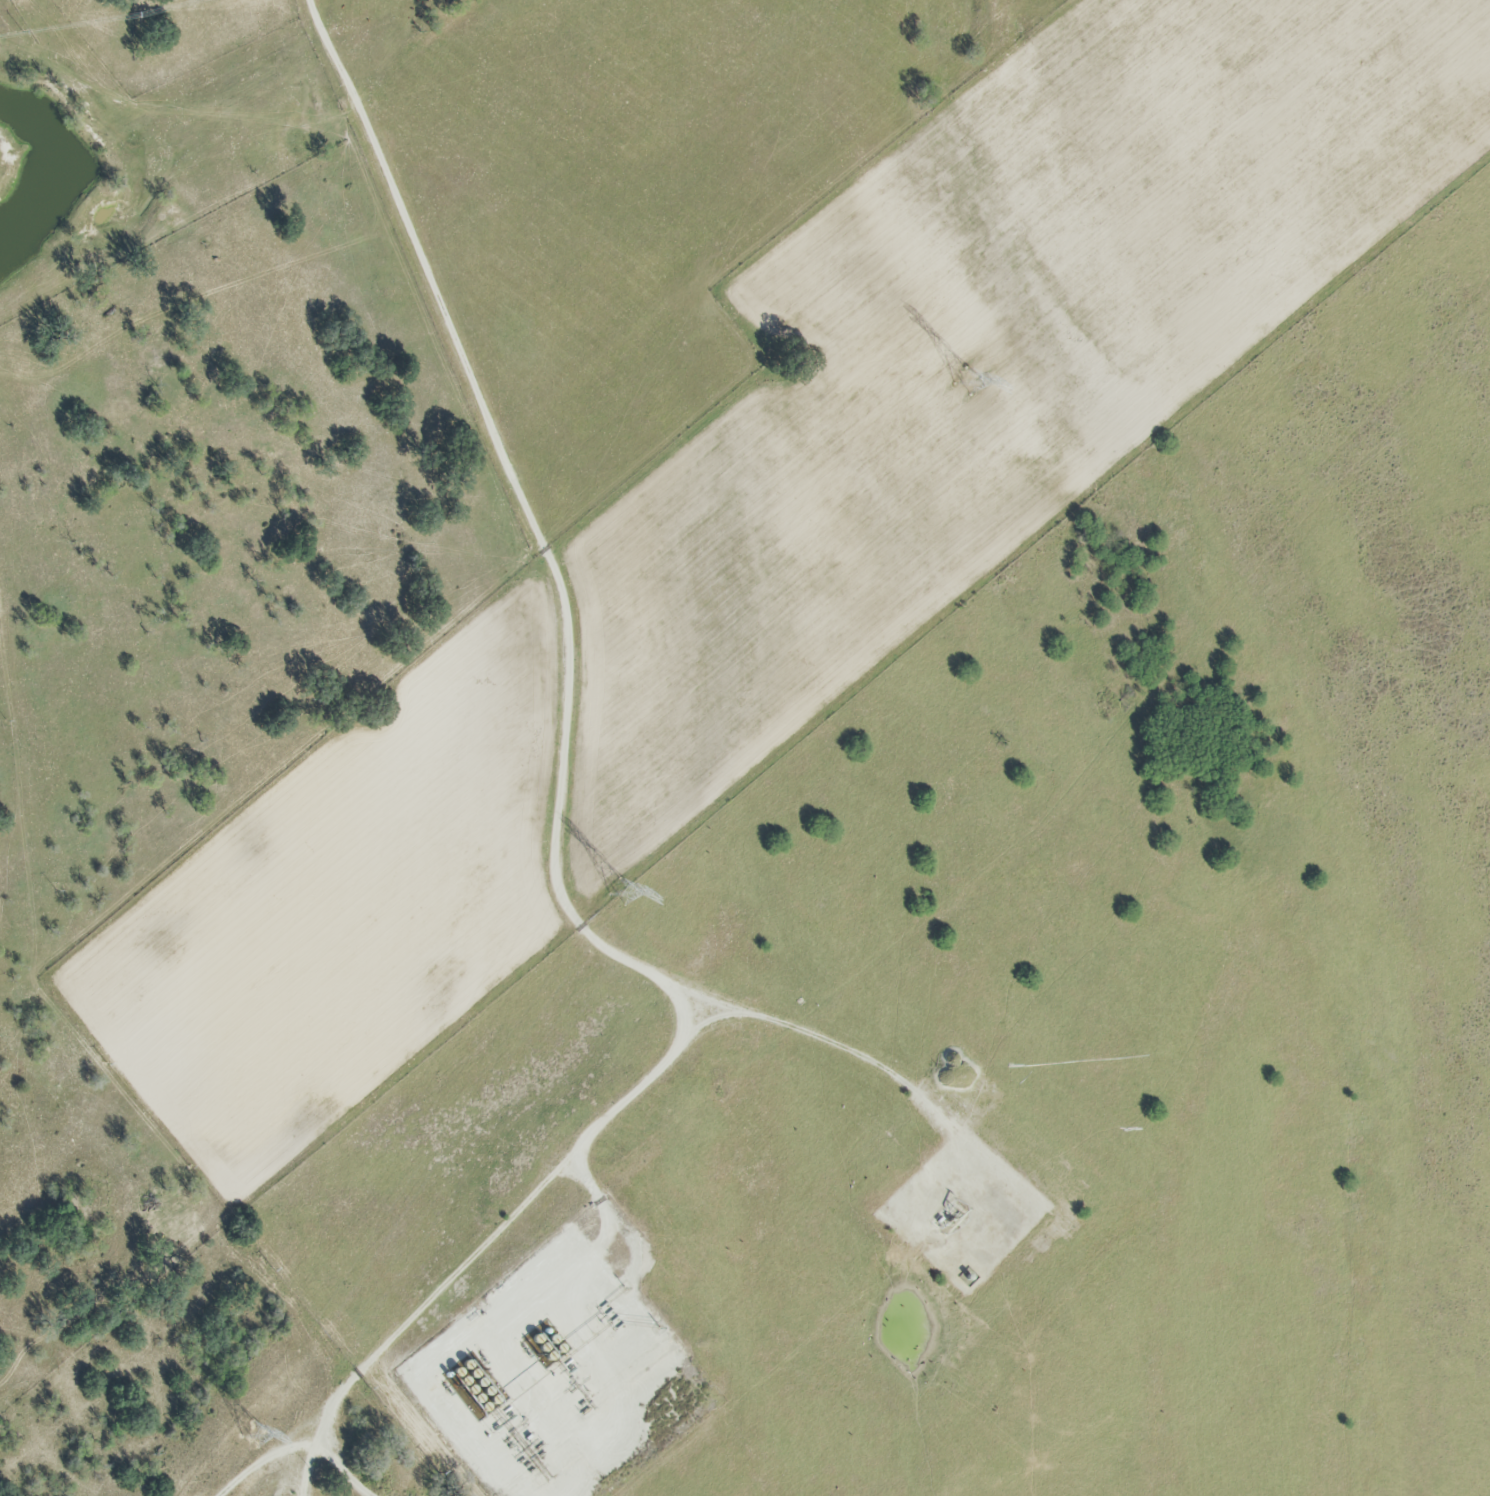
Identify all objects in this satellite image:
power tower: (965, 382)
road: (535, 518)
power tower: (618, 895)
road: (909, 1076)
road: (485, 1232)
road: (520, 1304)
power tower: (253, 1437)
road: (266, 1455)
road: (348, 1461)

